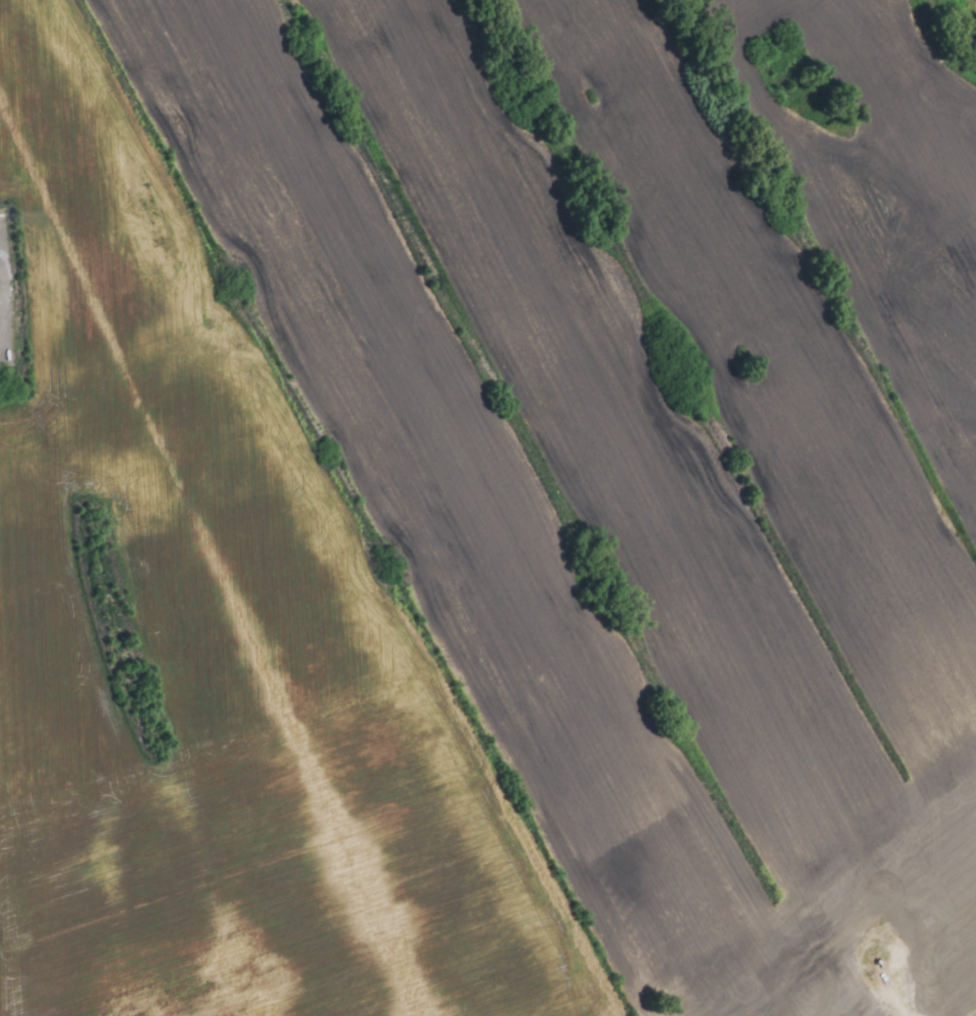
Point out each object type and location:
crop: (488, 508)

